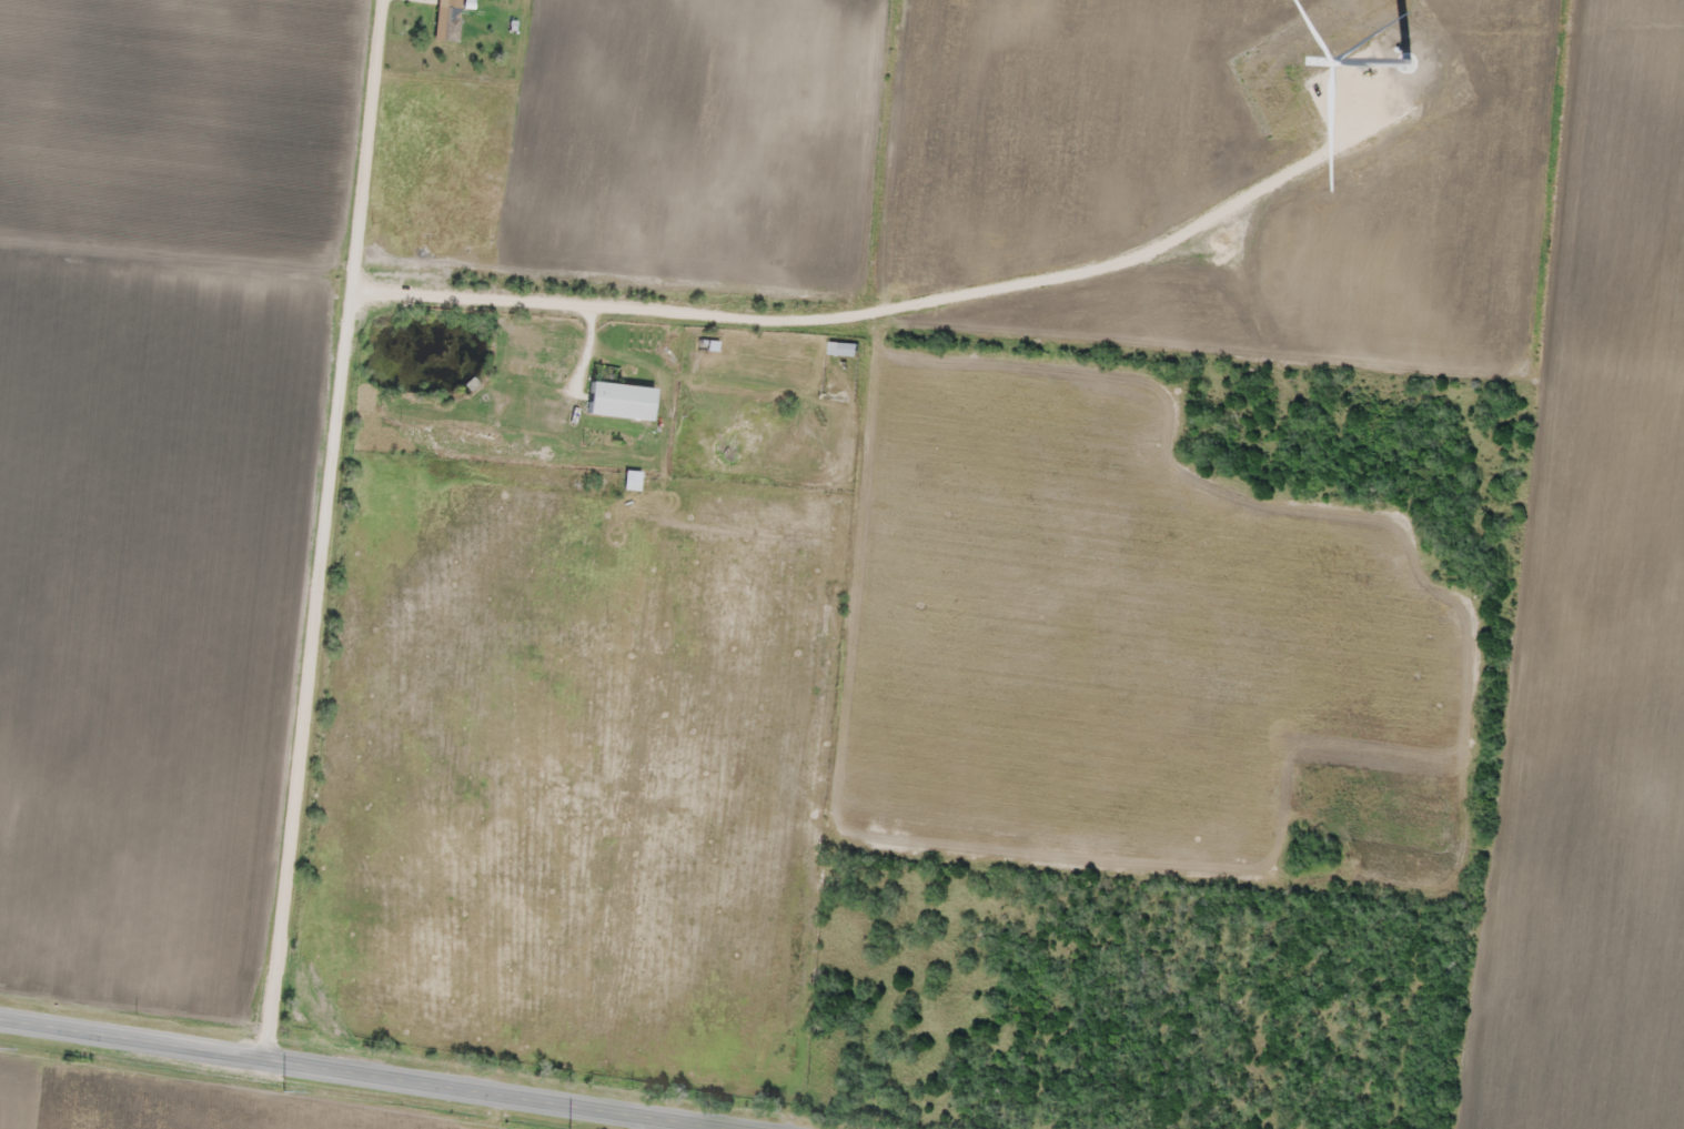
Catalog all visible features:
building: (450, 23)
wind turbine: (1401, 48)
building: (619, 399)
road: (321, 531)
road: (354, 1075)

